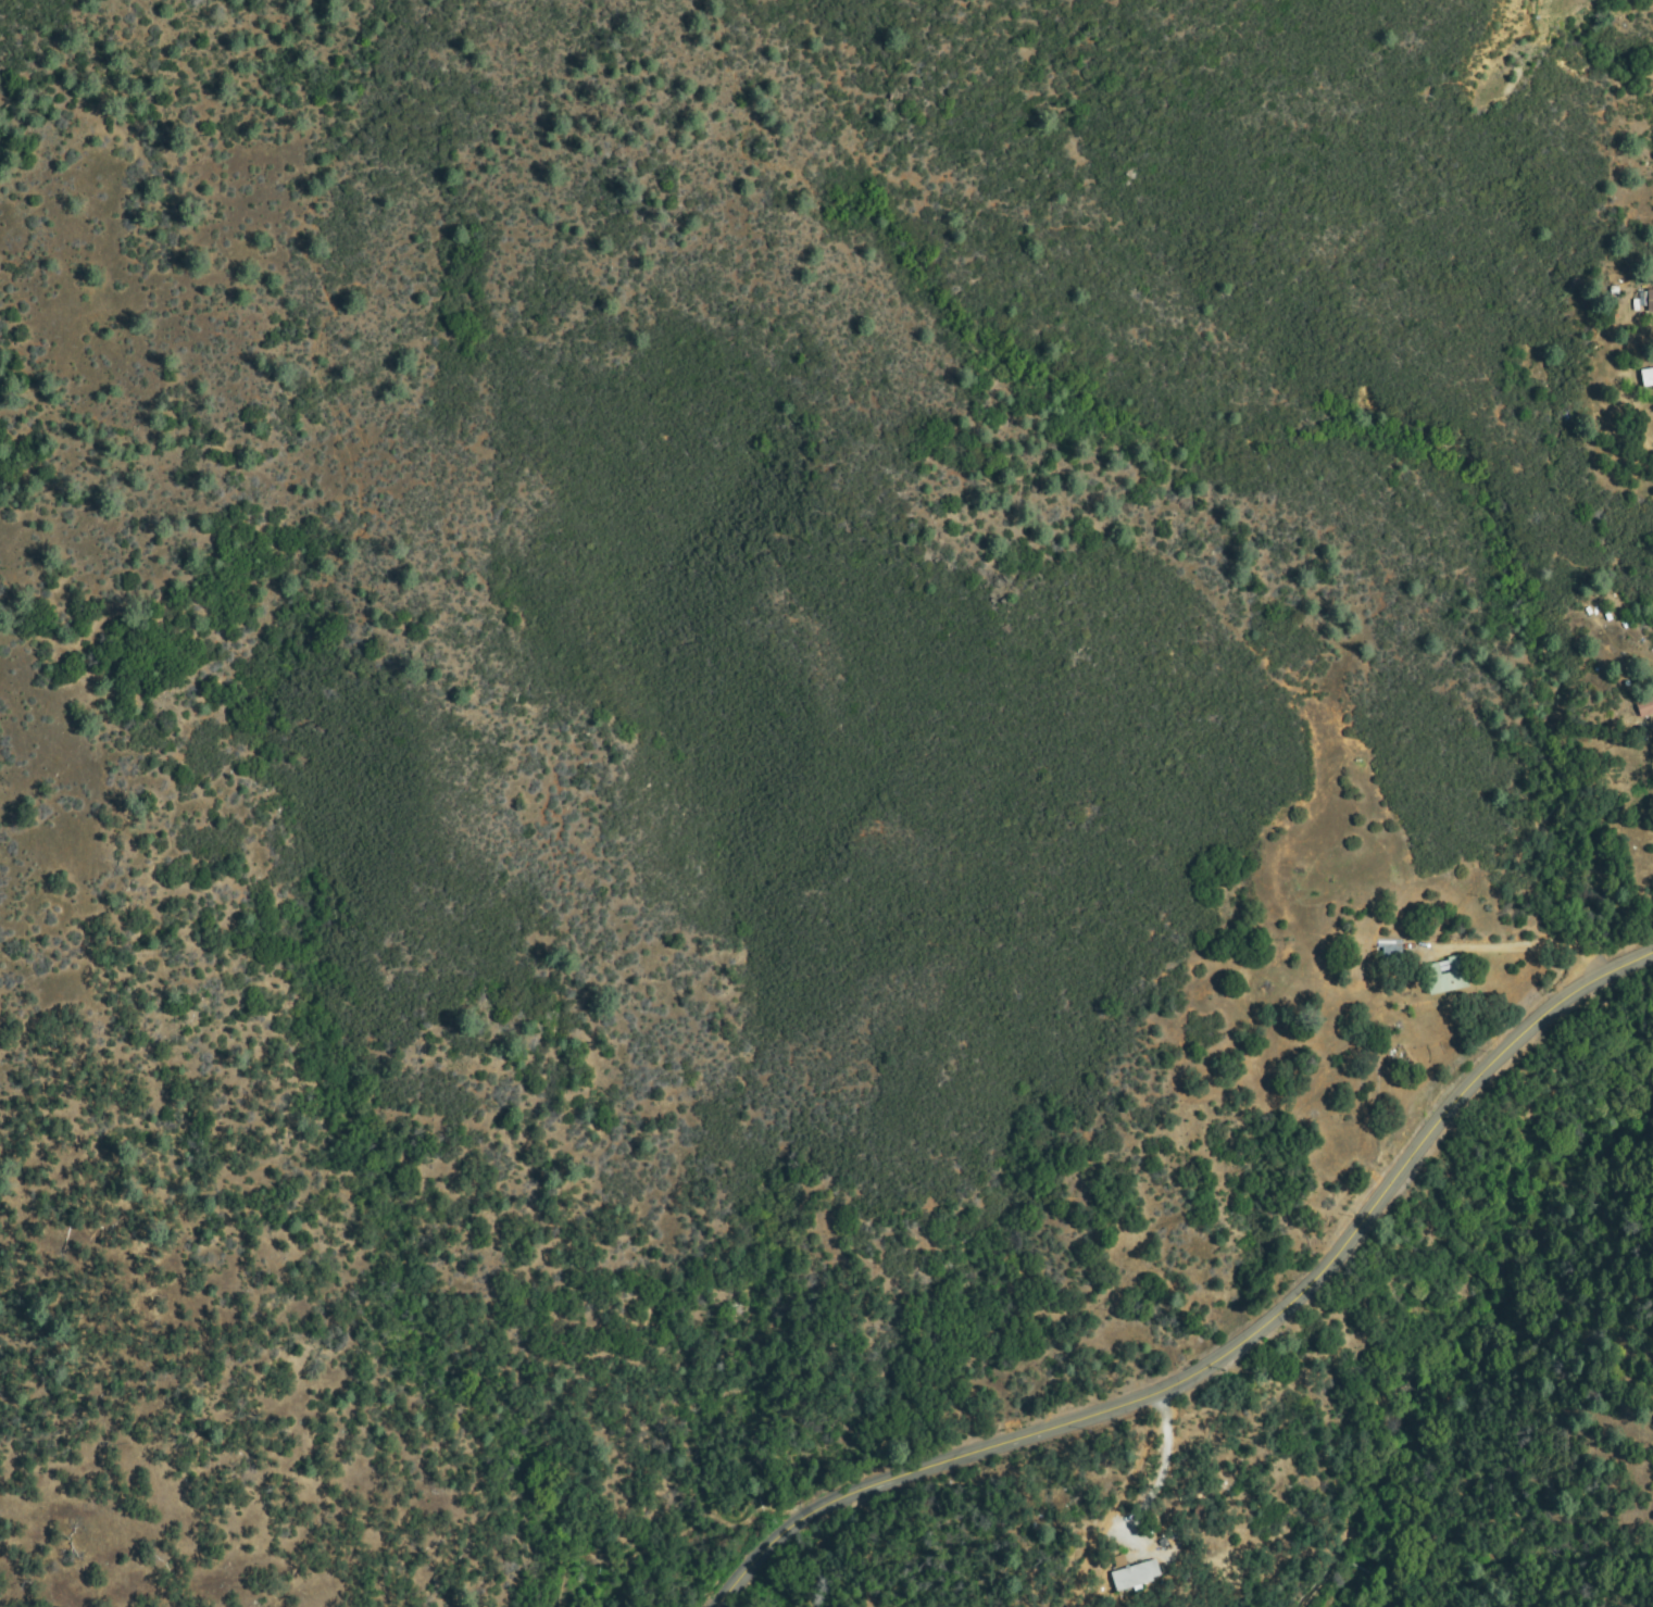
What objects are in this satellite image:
building: (1649, 302)
building: (1649, 377)
building: (1645, 707)
building: (1392, 955)
building: (1449, 976)
road: (1241, 1339)
building: (1137, 1577)

